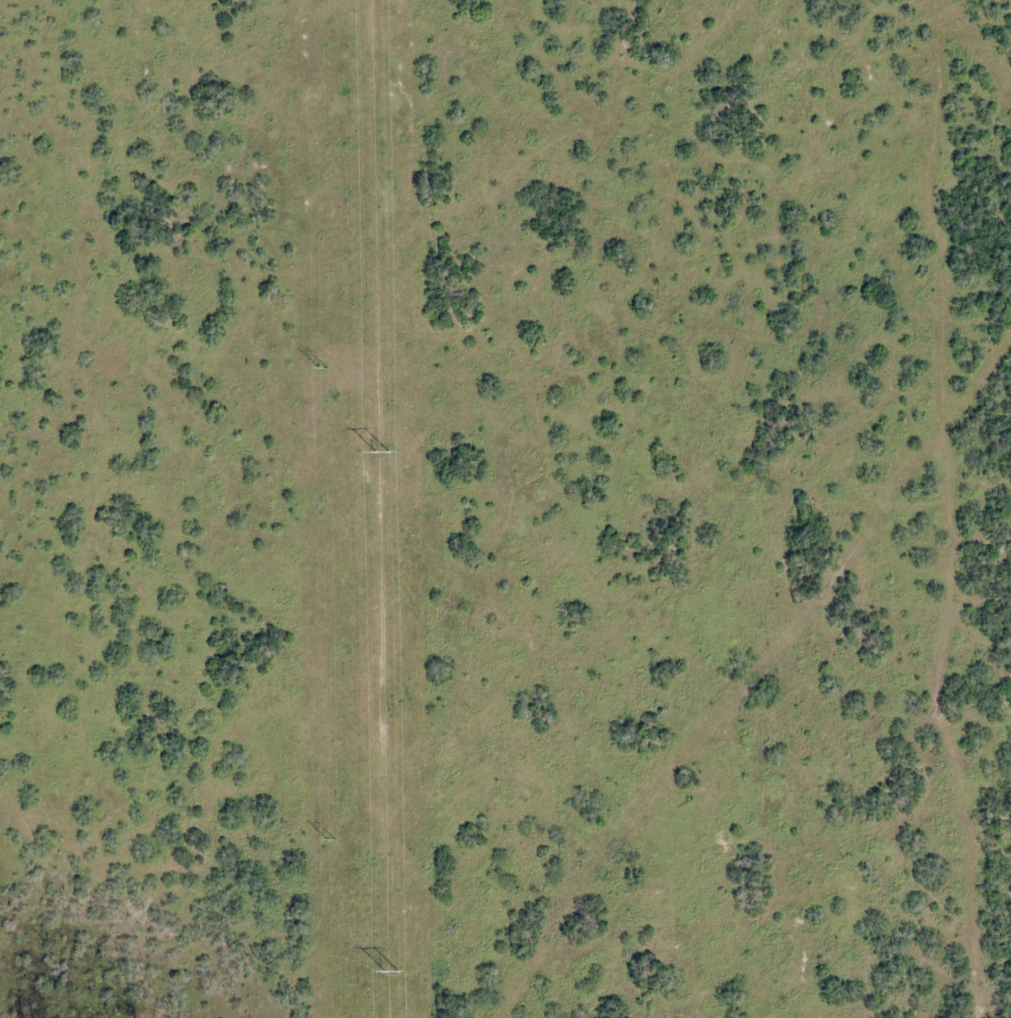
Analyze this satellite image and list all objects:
power tower: (322, 369)
power tower: (381, 452)
power tower: (331, 840)
power tower: (390, 972)

